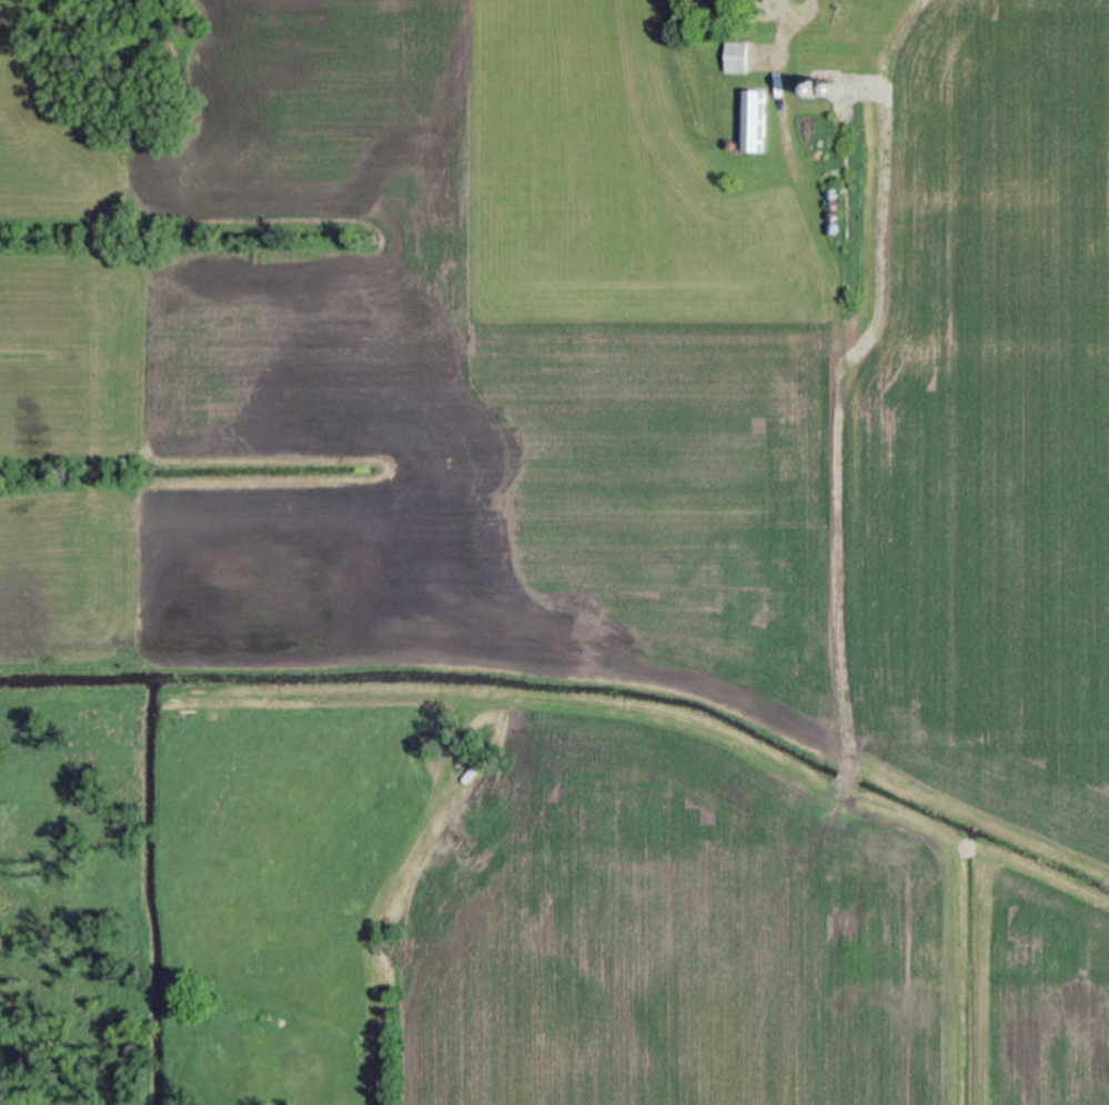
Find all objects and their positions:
building: (756, 17)
building: (735, 57)
road: (793, 72)
building: (816, 89)
building: (833, 89)
building: (750, 122)
building: (733, 145)
building: (834, 194)
building: (834, 206)
building: (834, 219)
building: (834, 230)
building: (151, 696)
building: (844, 779)

